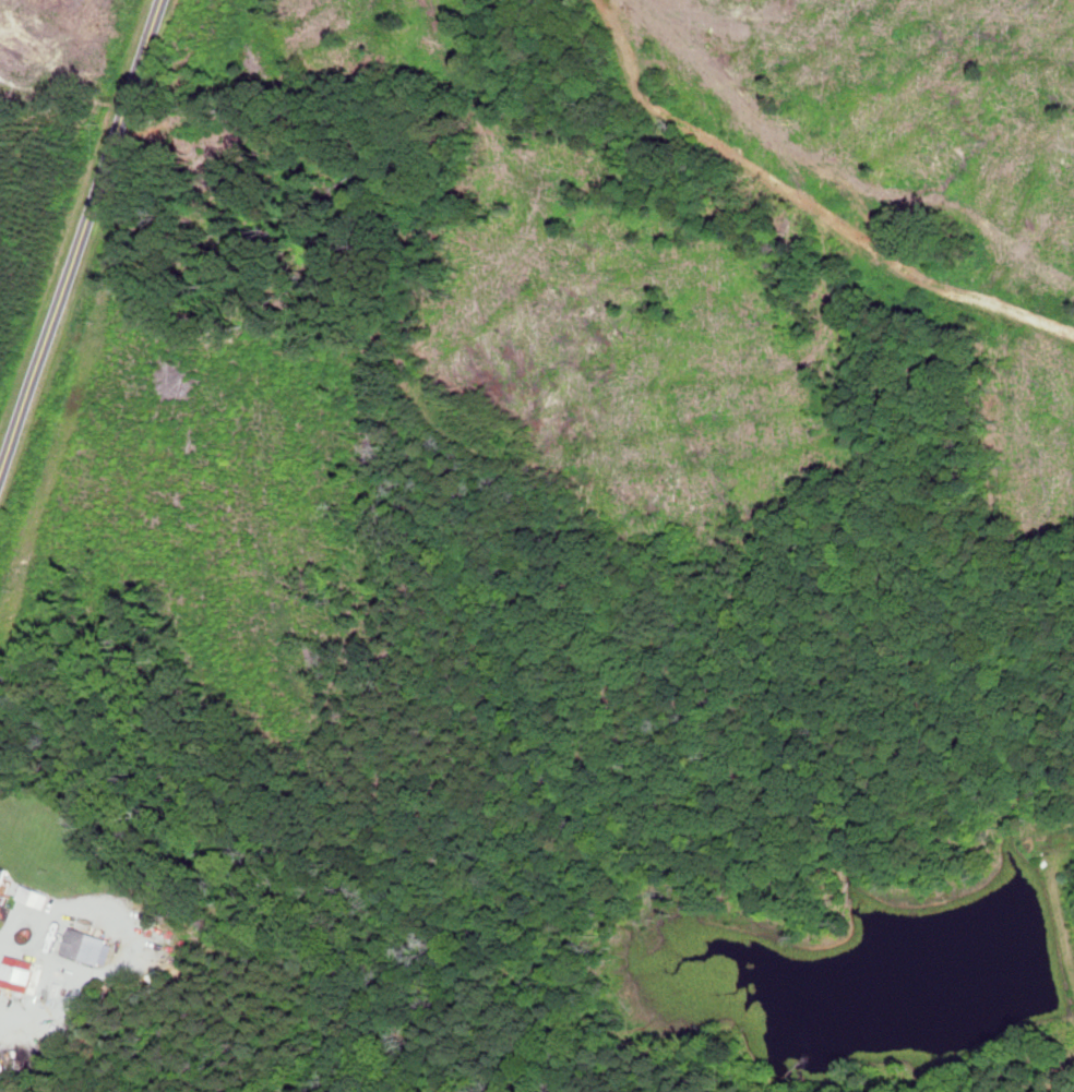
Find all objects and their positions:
road: (81, 232)
road: (1, 469)
building: (2, 876)
building: (36, 896)
building: (89, 946)
building: (19, 973)

